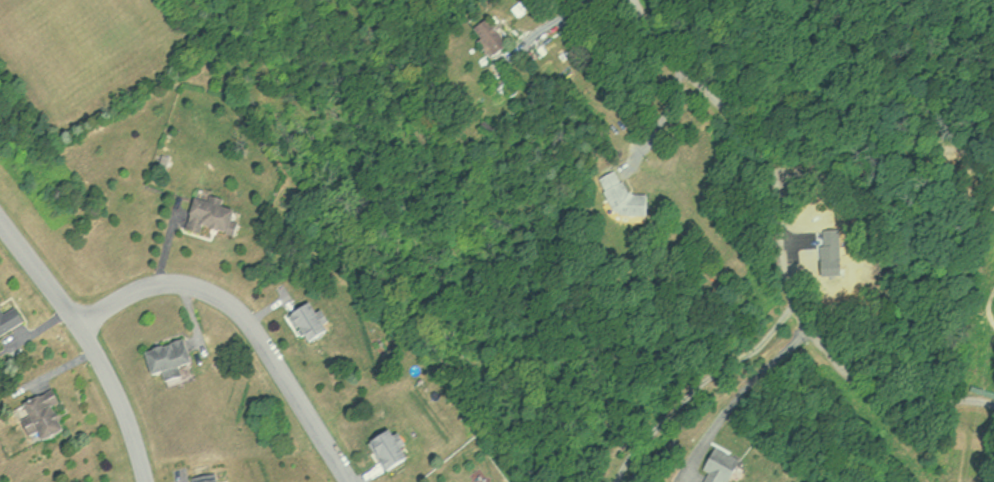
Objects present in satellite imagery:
building: (497, 38)
road: (659, 116)
building: (630, 199)
road: (783, 246)
road: (42, 271)
road: (250, 322)
building: (315, 324)
road: (741, 382)
road: (699, 384)
road: (121, 402)
building: (396, 450)
building: (728, 467)

